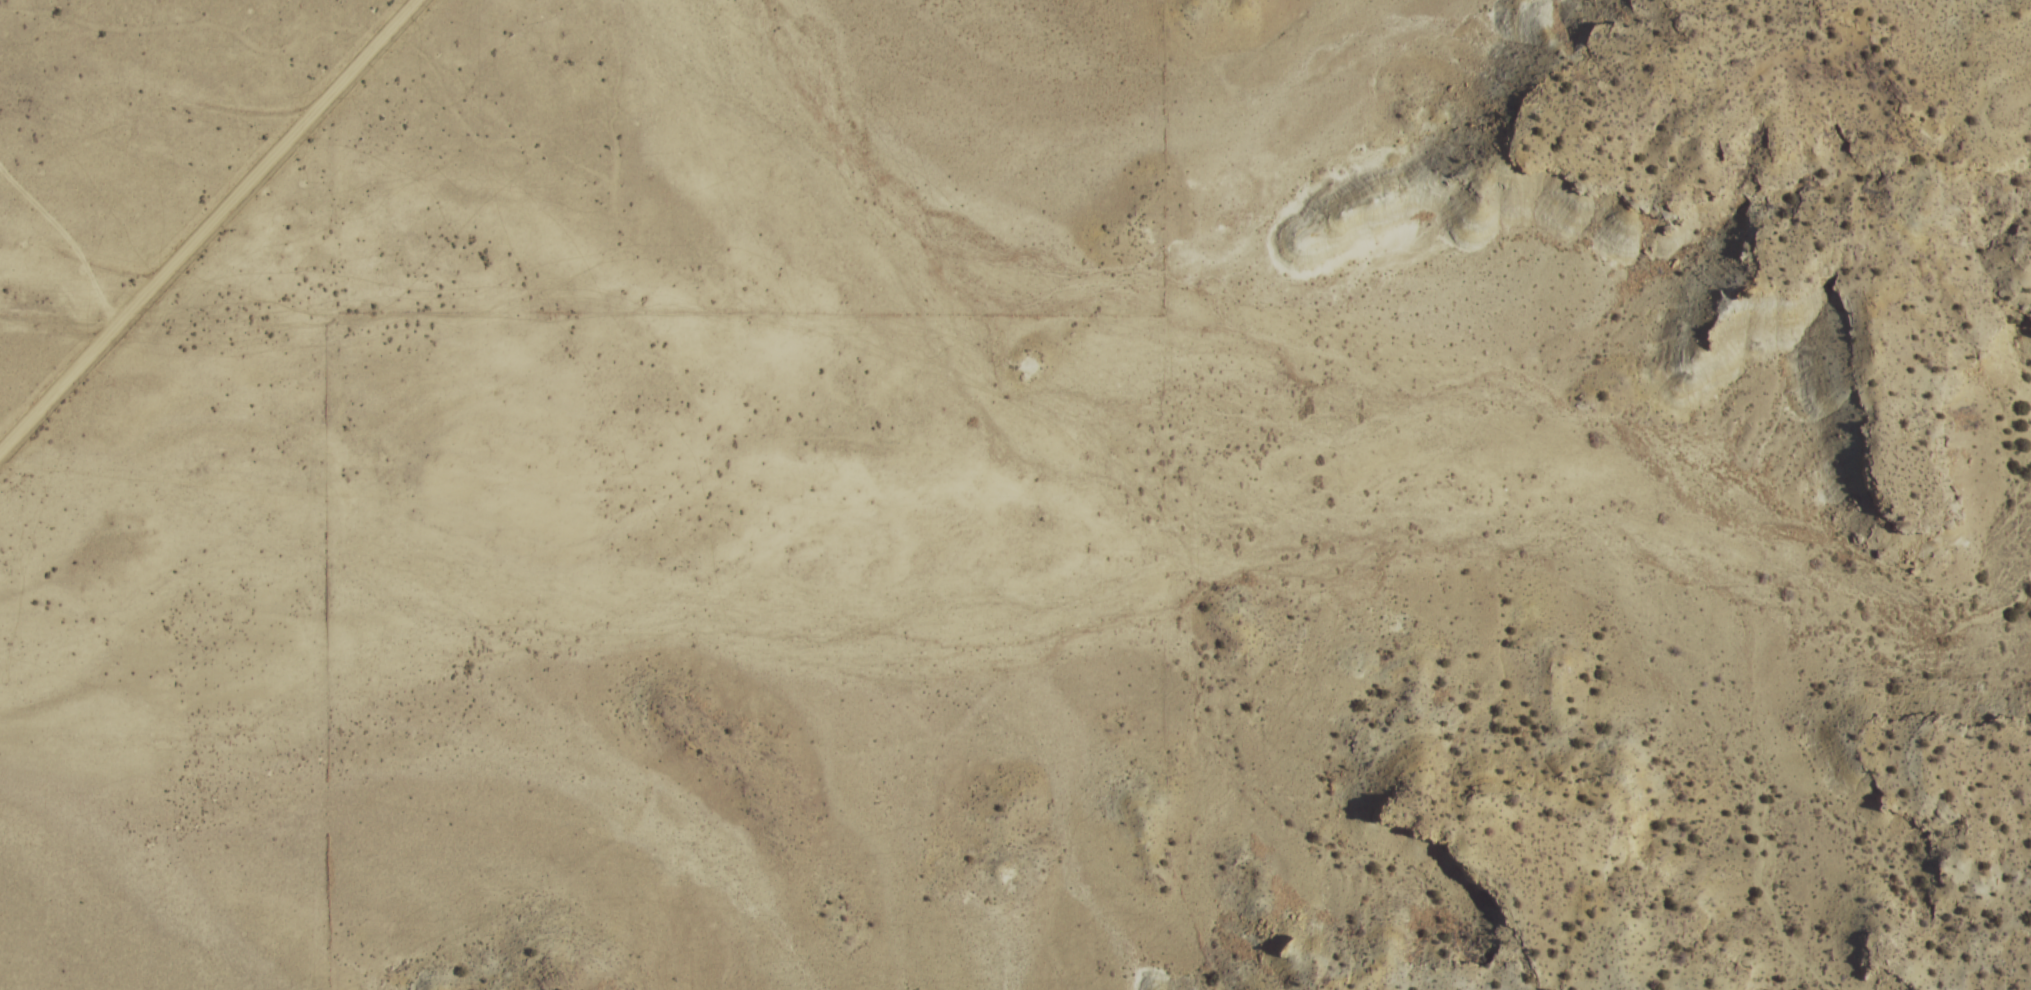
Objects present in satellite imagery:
road: (206, 223)

